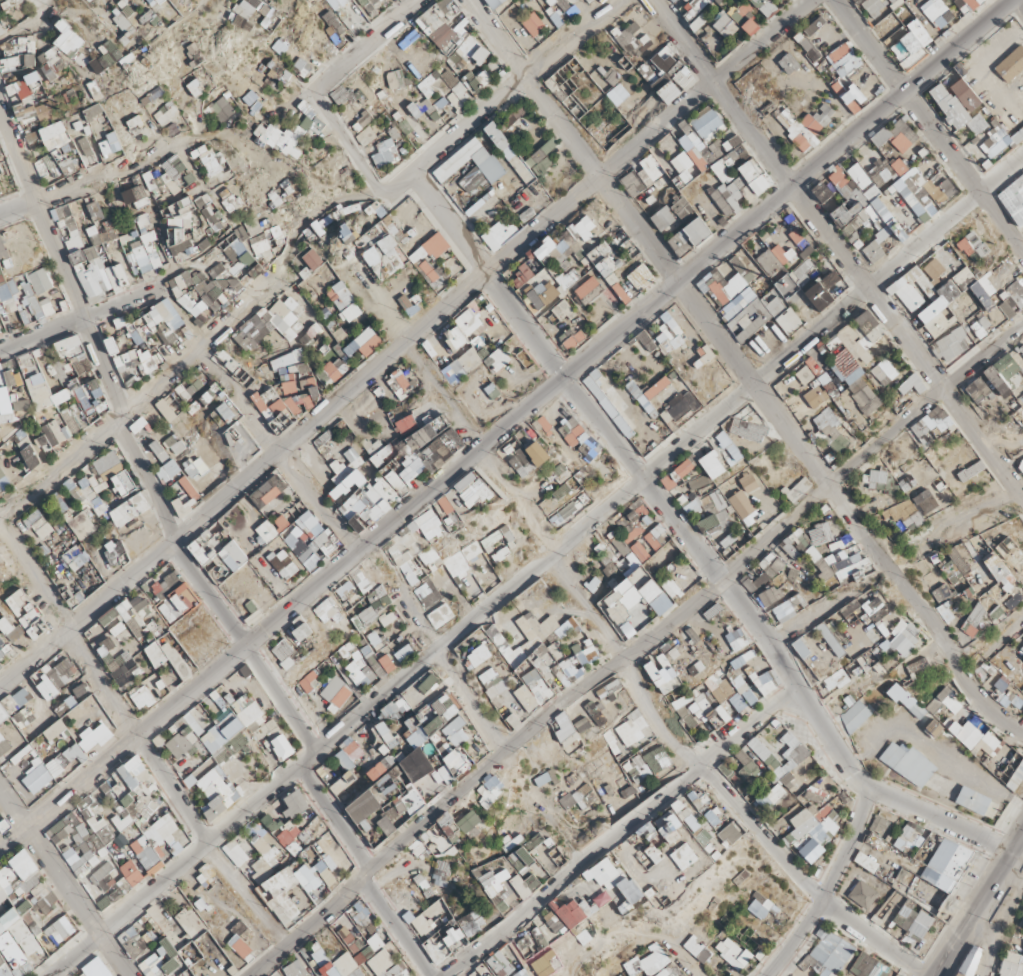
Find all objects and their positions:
road: (26, 26)
road: (359, 41)
road: (498, 97)
road: (400, 339)
road: (499, 425)
road: (631, 644)
road: (978, 905)

